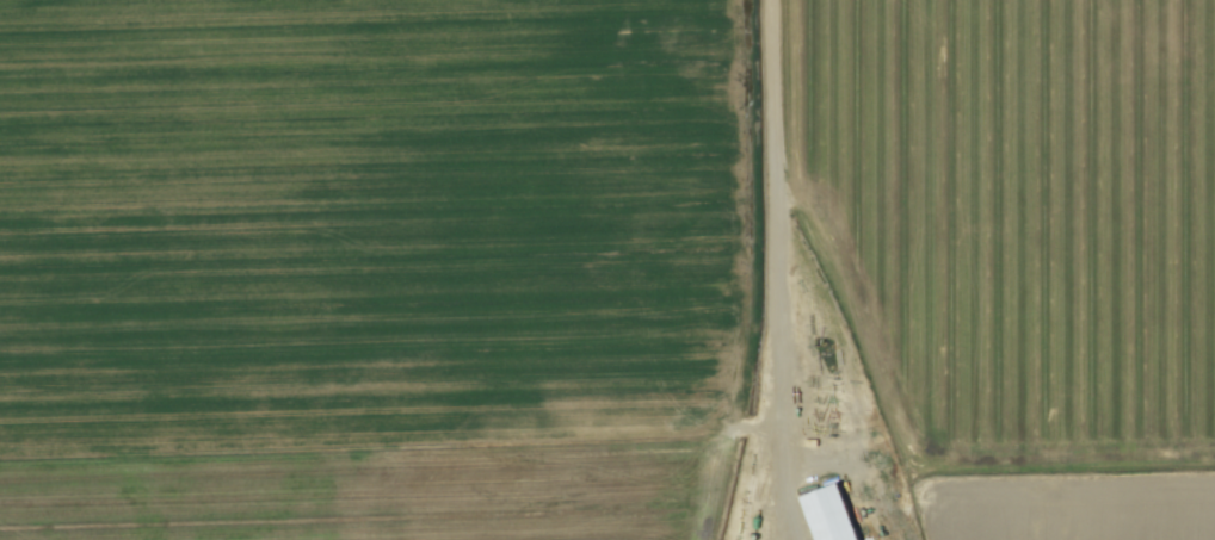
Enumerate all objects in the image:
road: (776, 272)
building: (828, 515)

